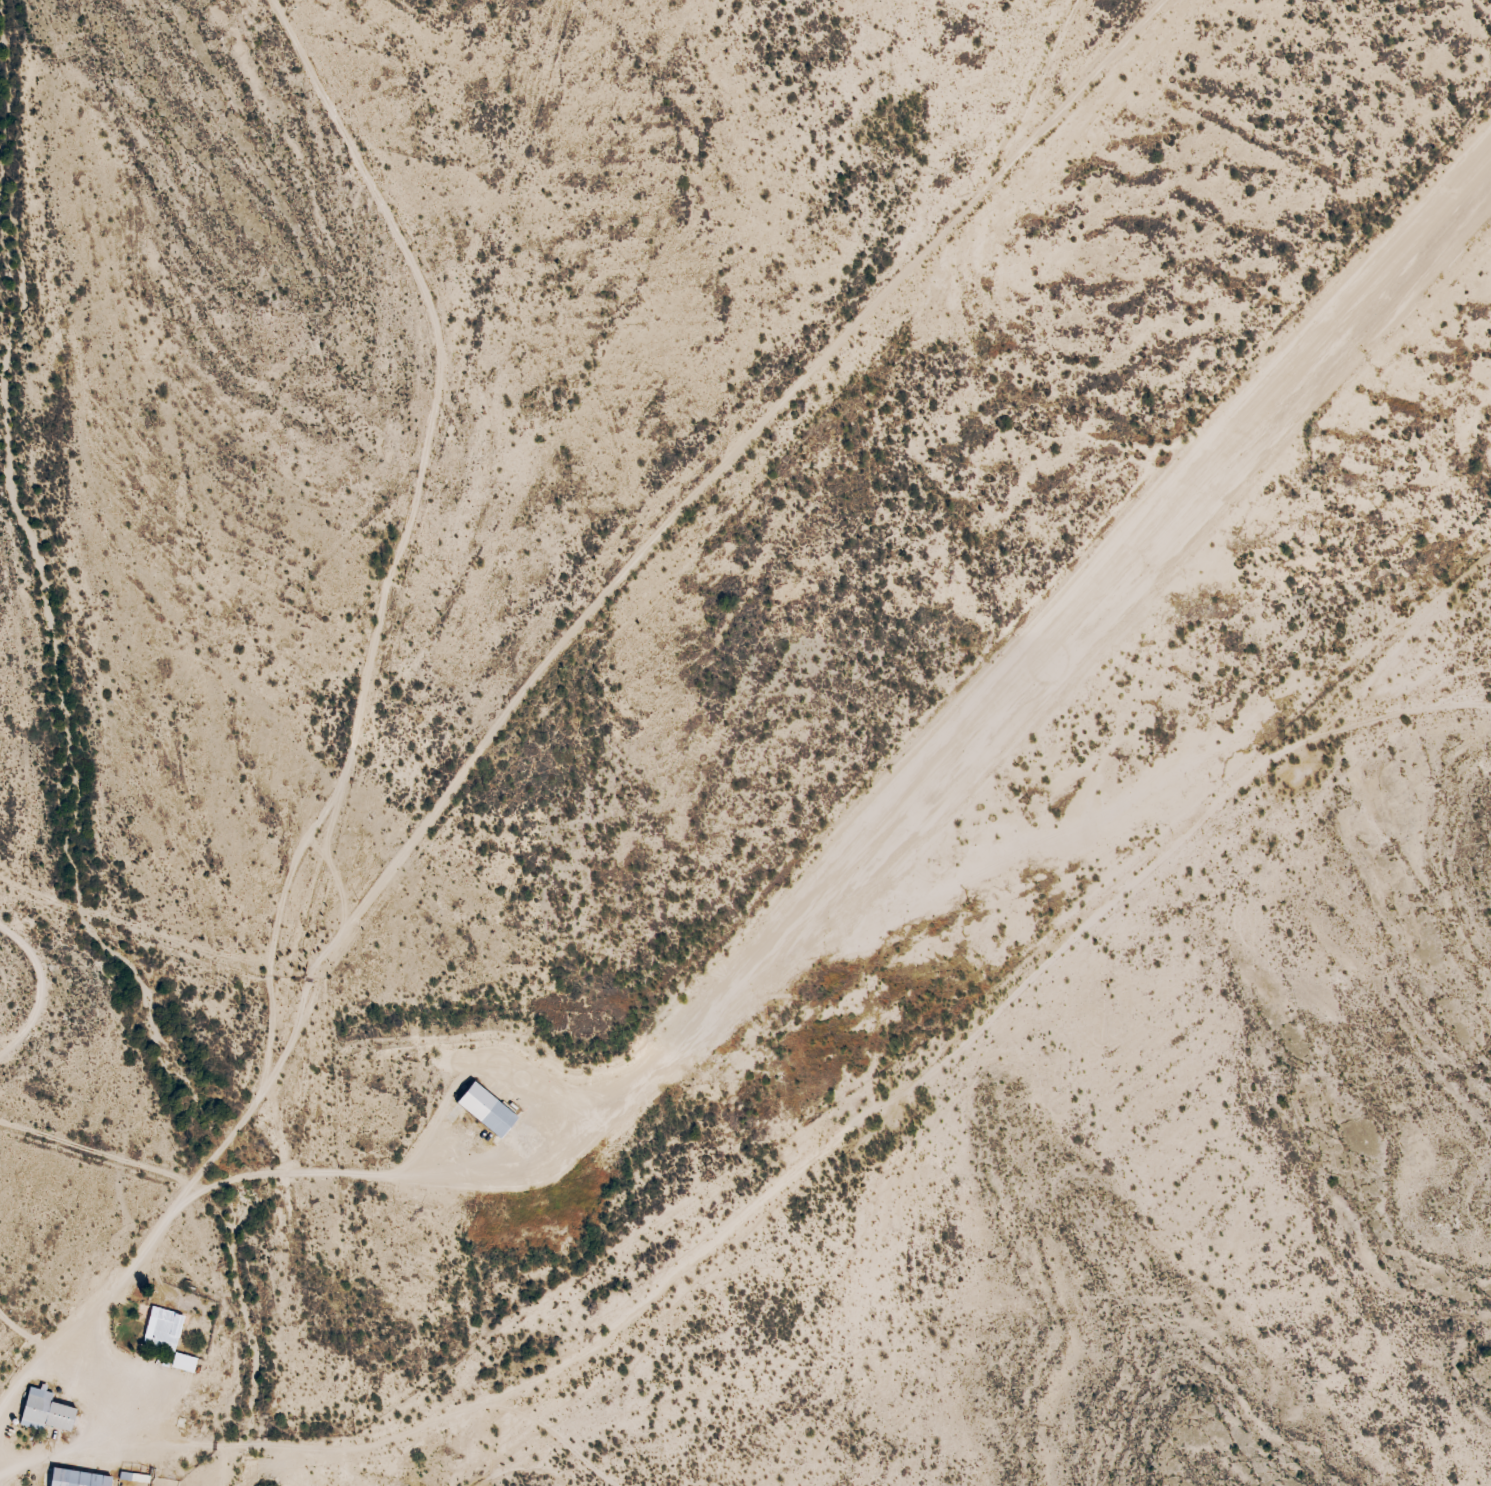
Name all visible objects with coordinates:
road: (1155, 27)
road: (1255, 103)
road: (430, 498)
airport runway: (1107, 578)
road: (549, 707)
road: (1396, 727)
building: (486, 1111)
road: (805, 1135)
building: (163, 1331)
building: (47, 1414)
road: (518, 1447)
building: (77, 1479)

